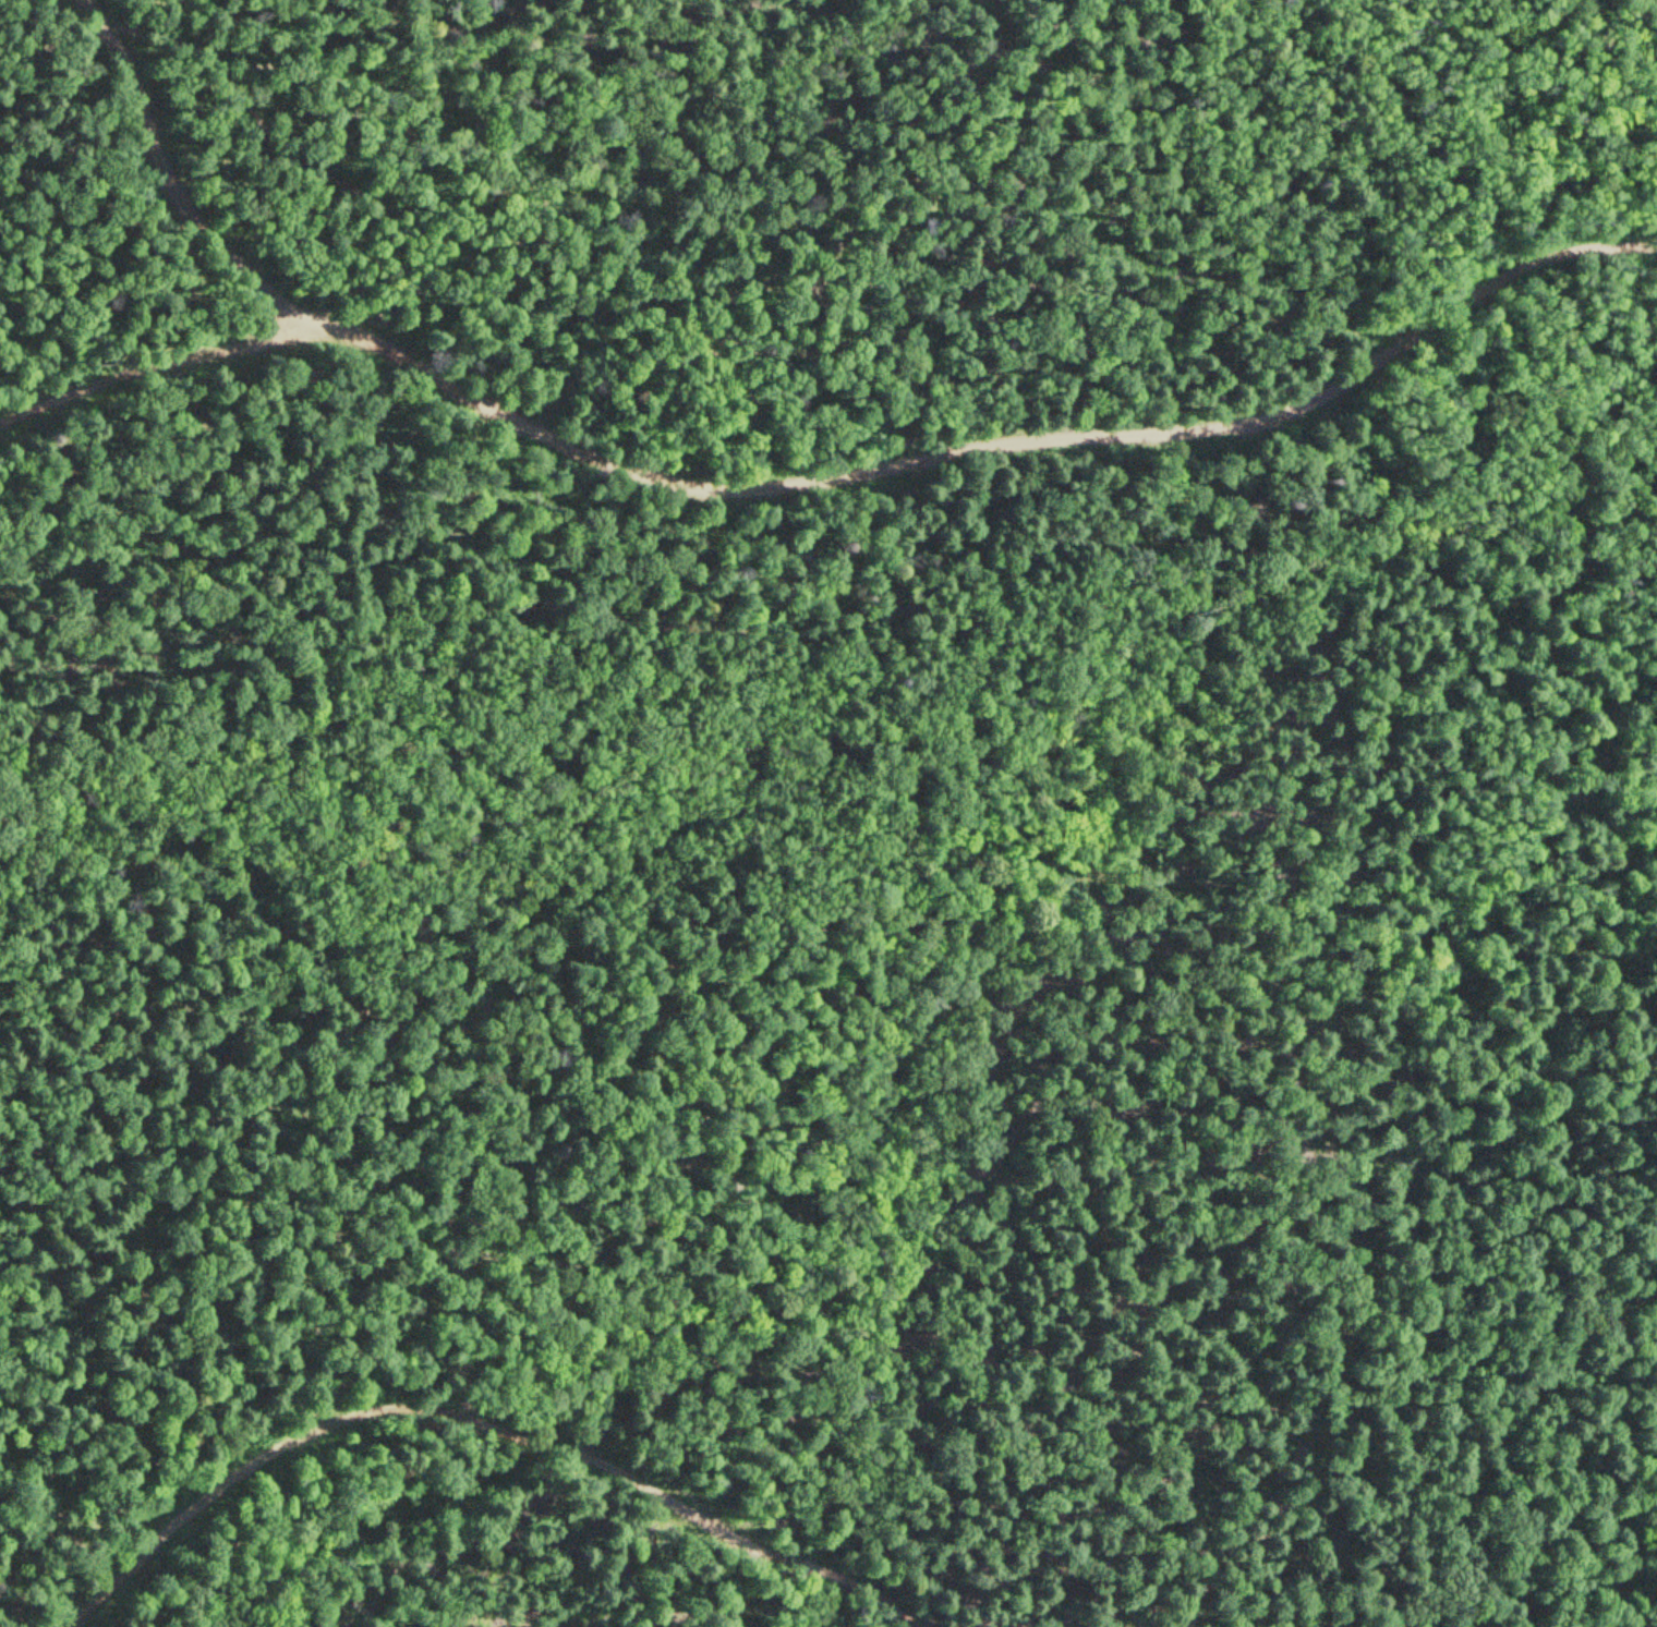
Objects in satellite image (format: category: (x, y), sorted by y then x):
road: (828, 464)
road: (1208, 633)
road: (1612, 1530)

